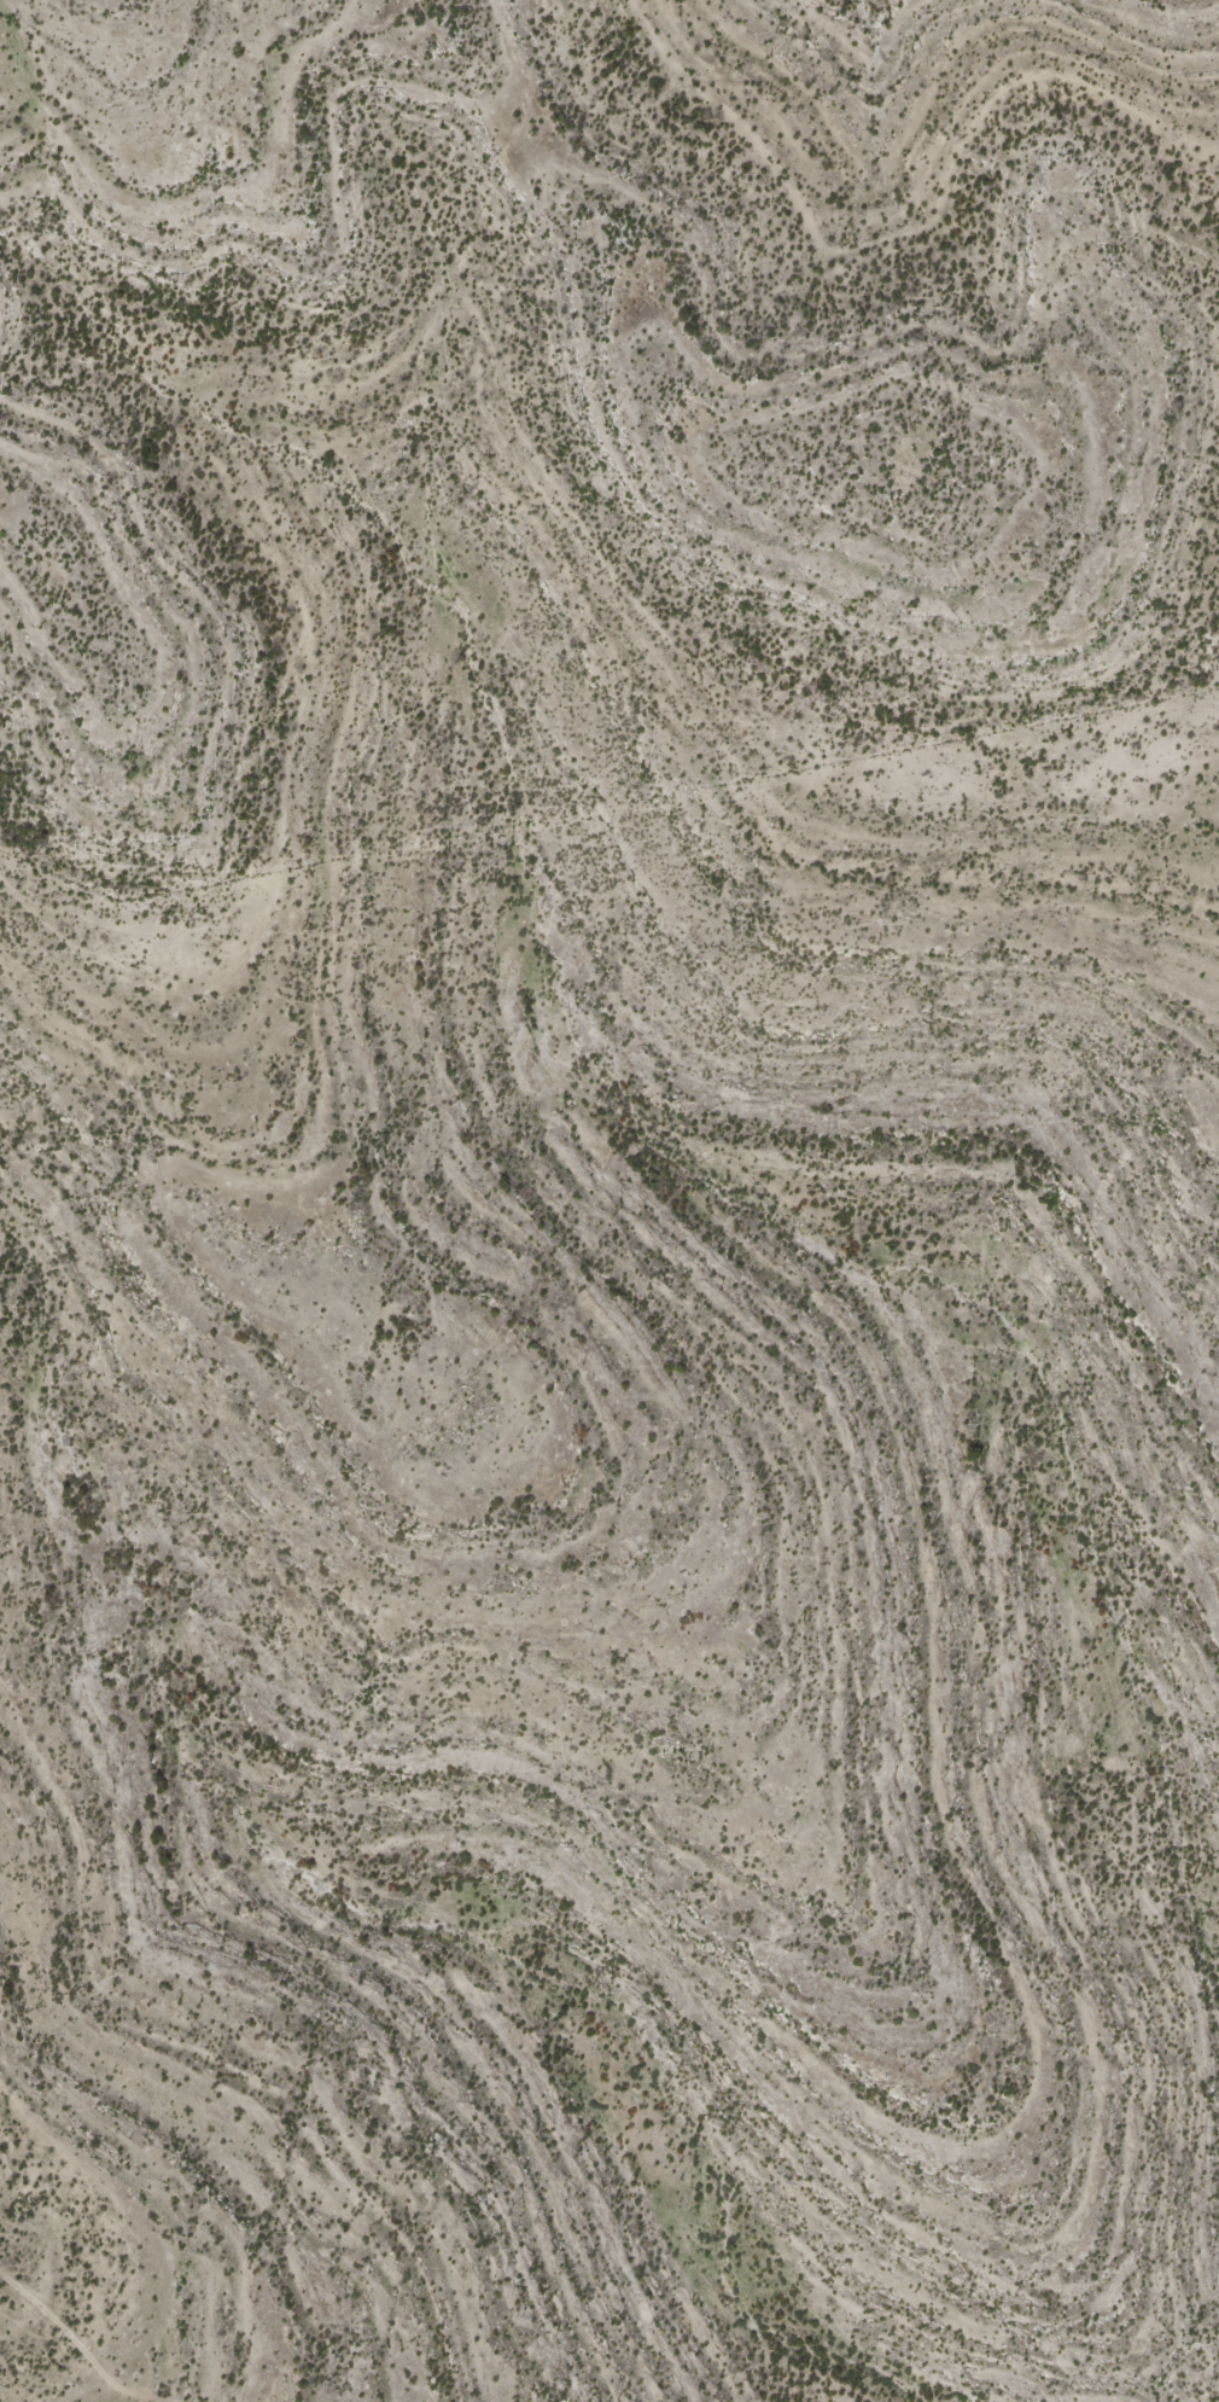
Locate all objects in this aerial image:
road: (83, 2349)

